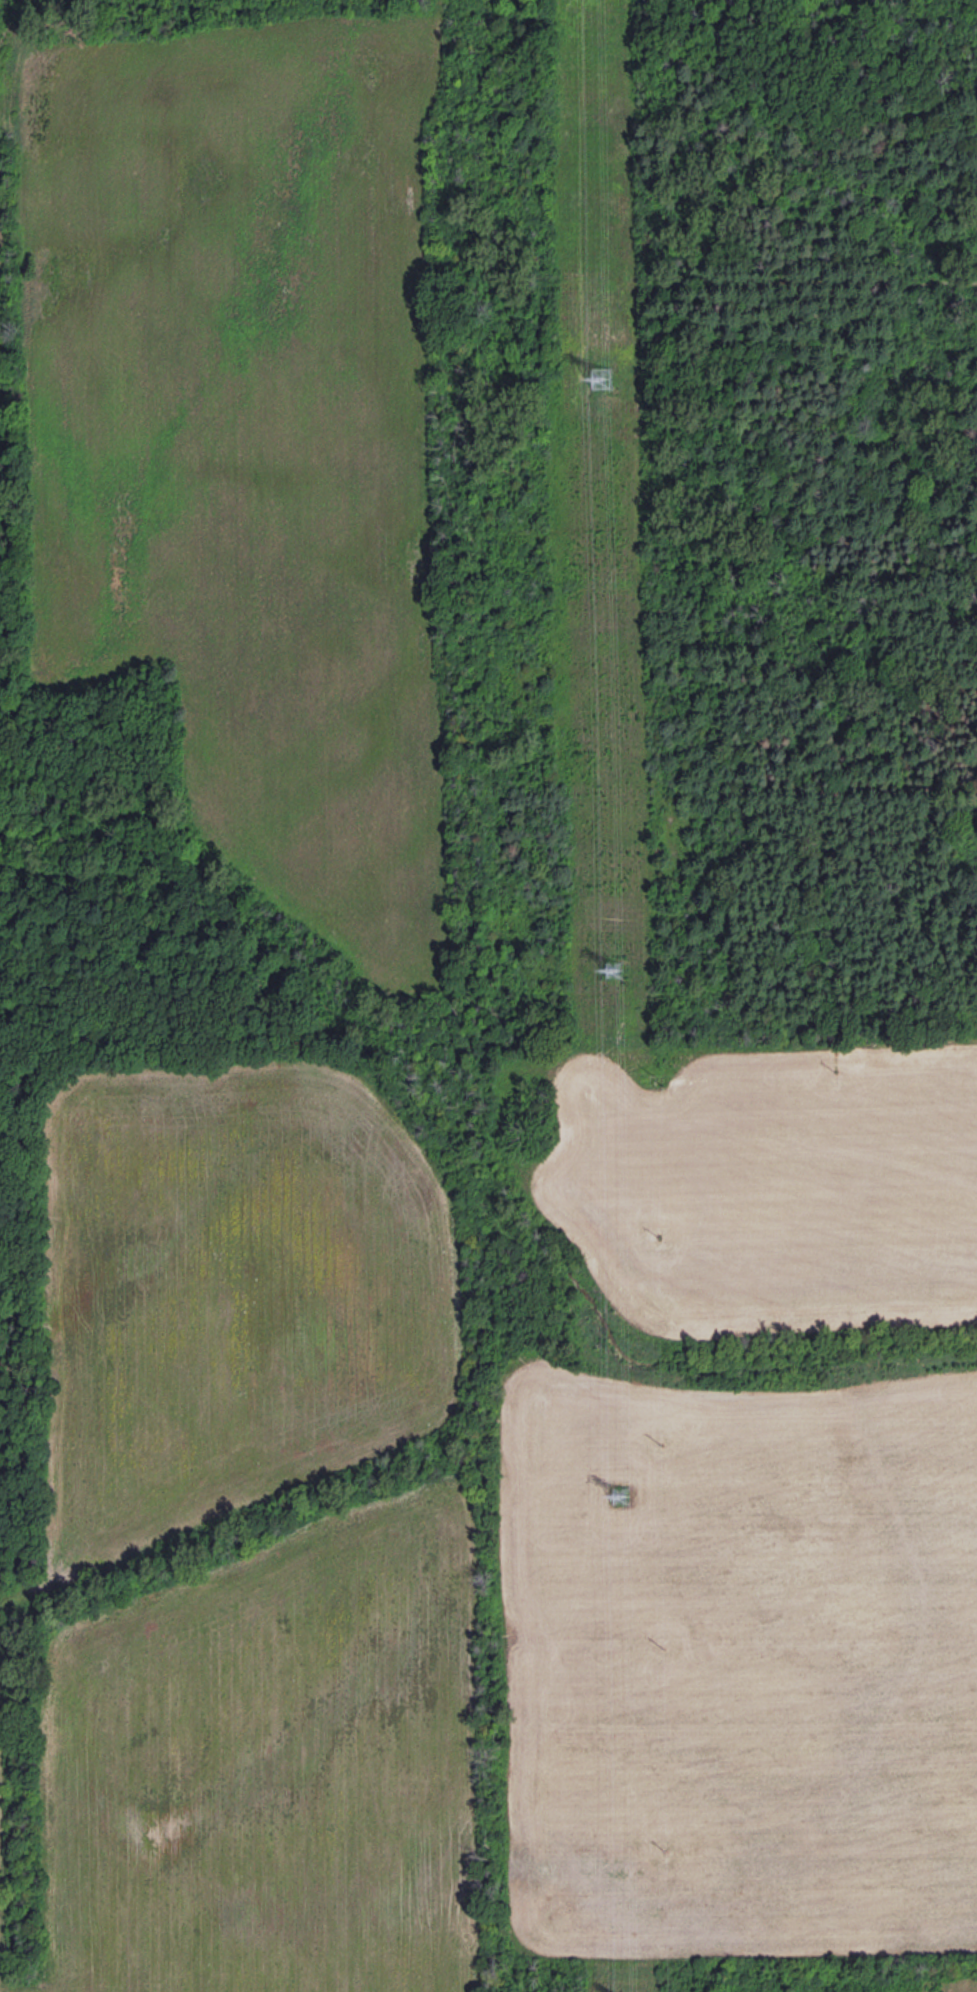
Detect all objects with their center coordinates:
power tower: (601, 377)
power tower: (611, 968)
power tower: (618, 1494)

